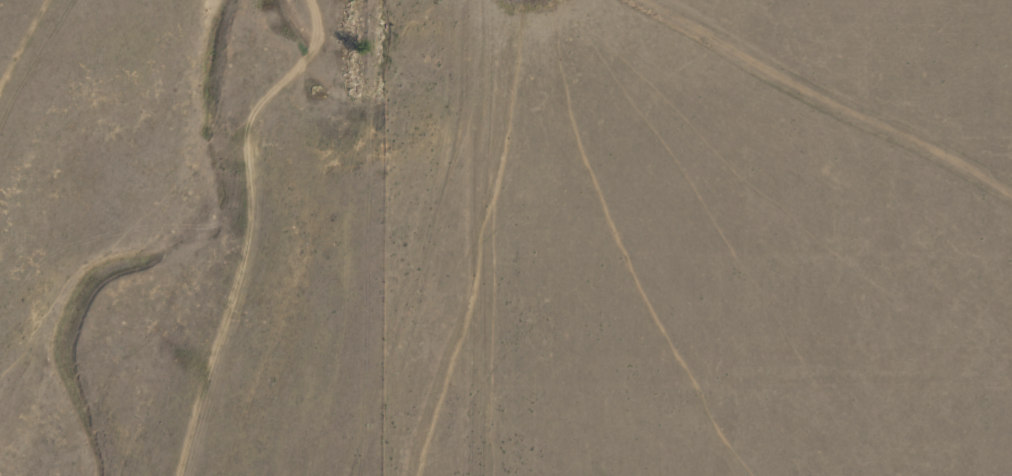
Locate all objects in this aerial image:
road: (49, 99)

